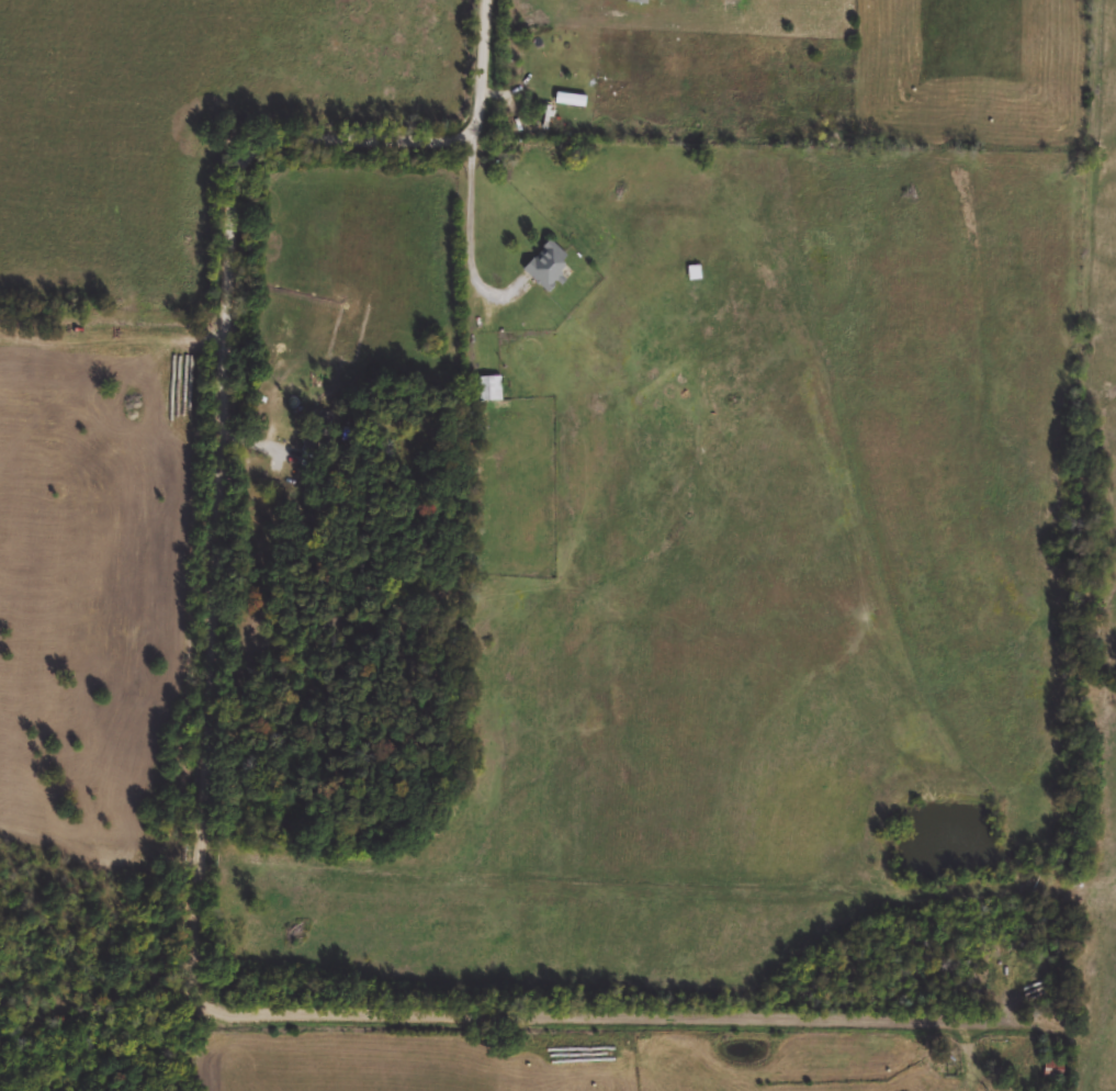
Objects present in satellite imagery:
building: (639, 3)
road: (471, 237)
building: (549, 267)
building: (697, 275)
building: (488, 391)
road: (200, 867)
building: (1055, 1071)

